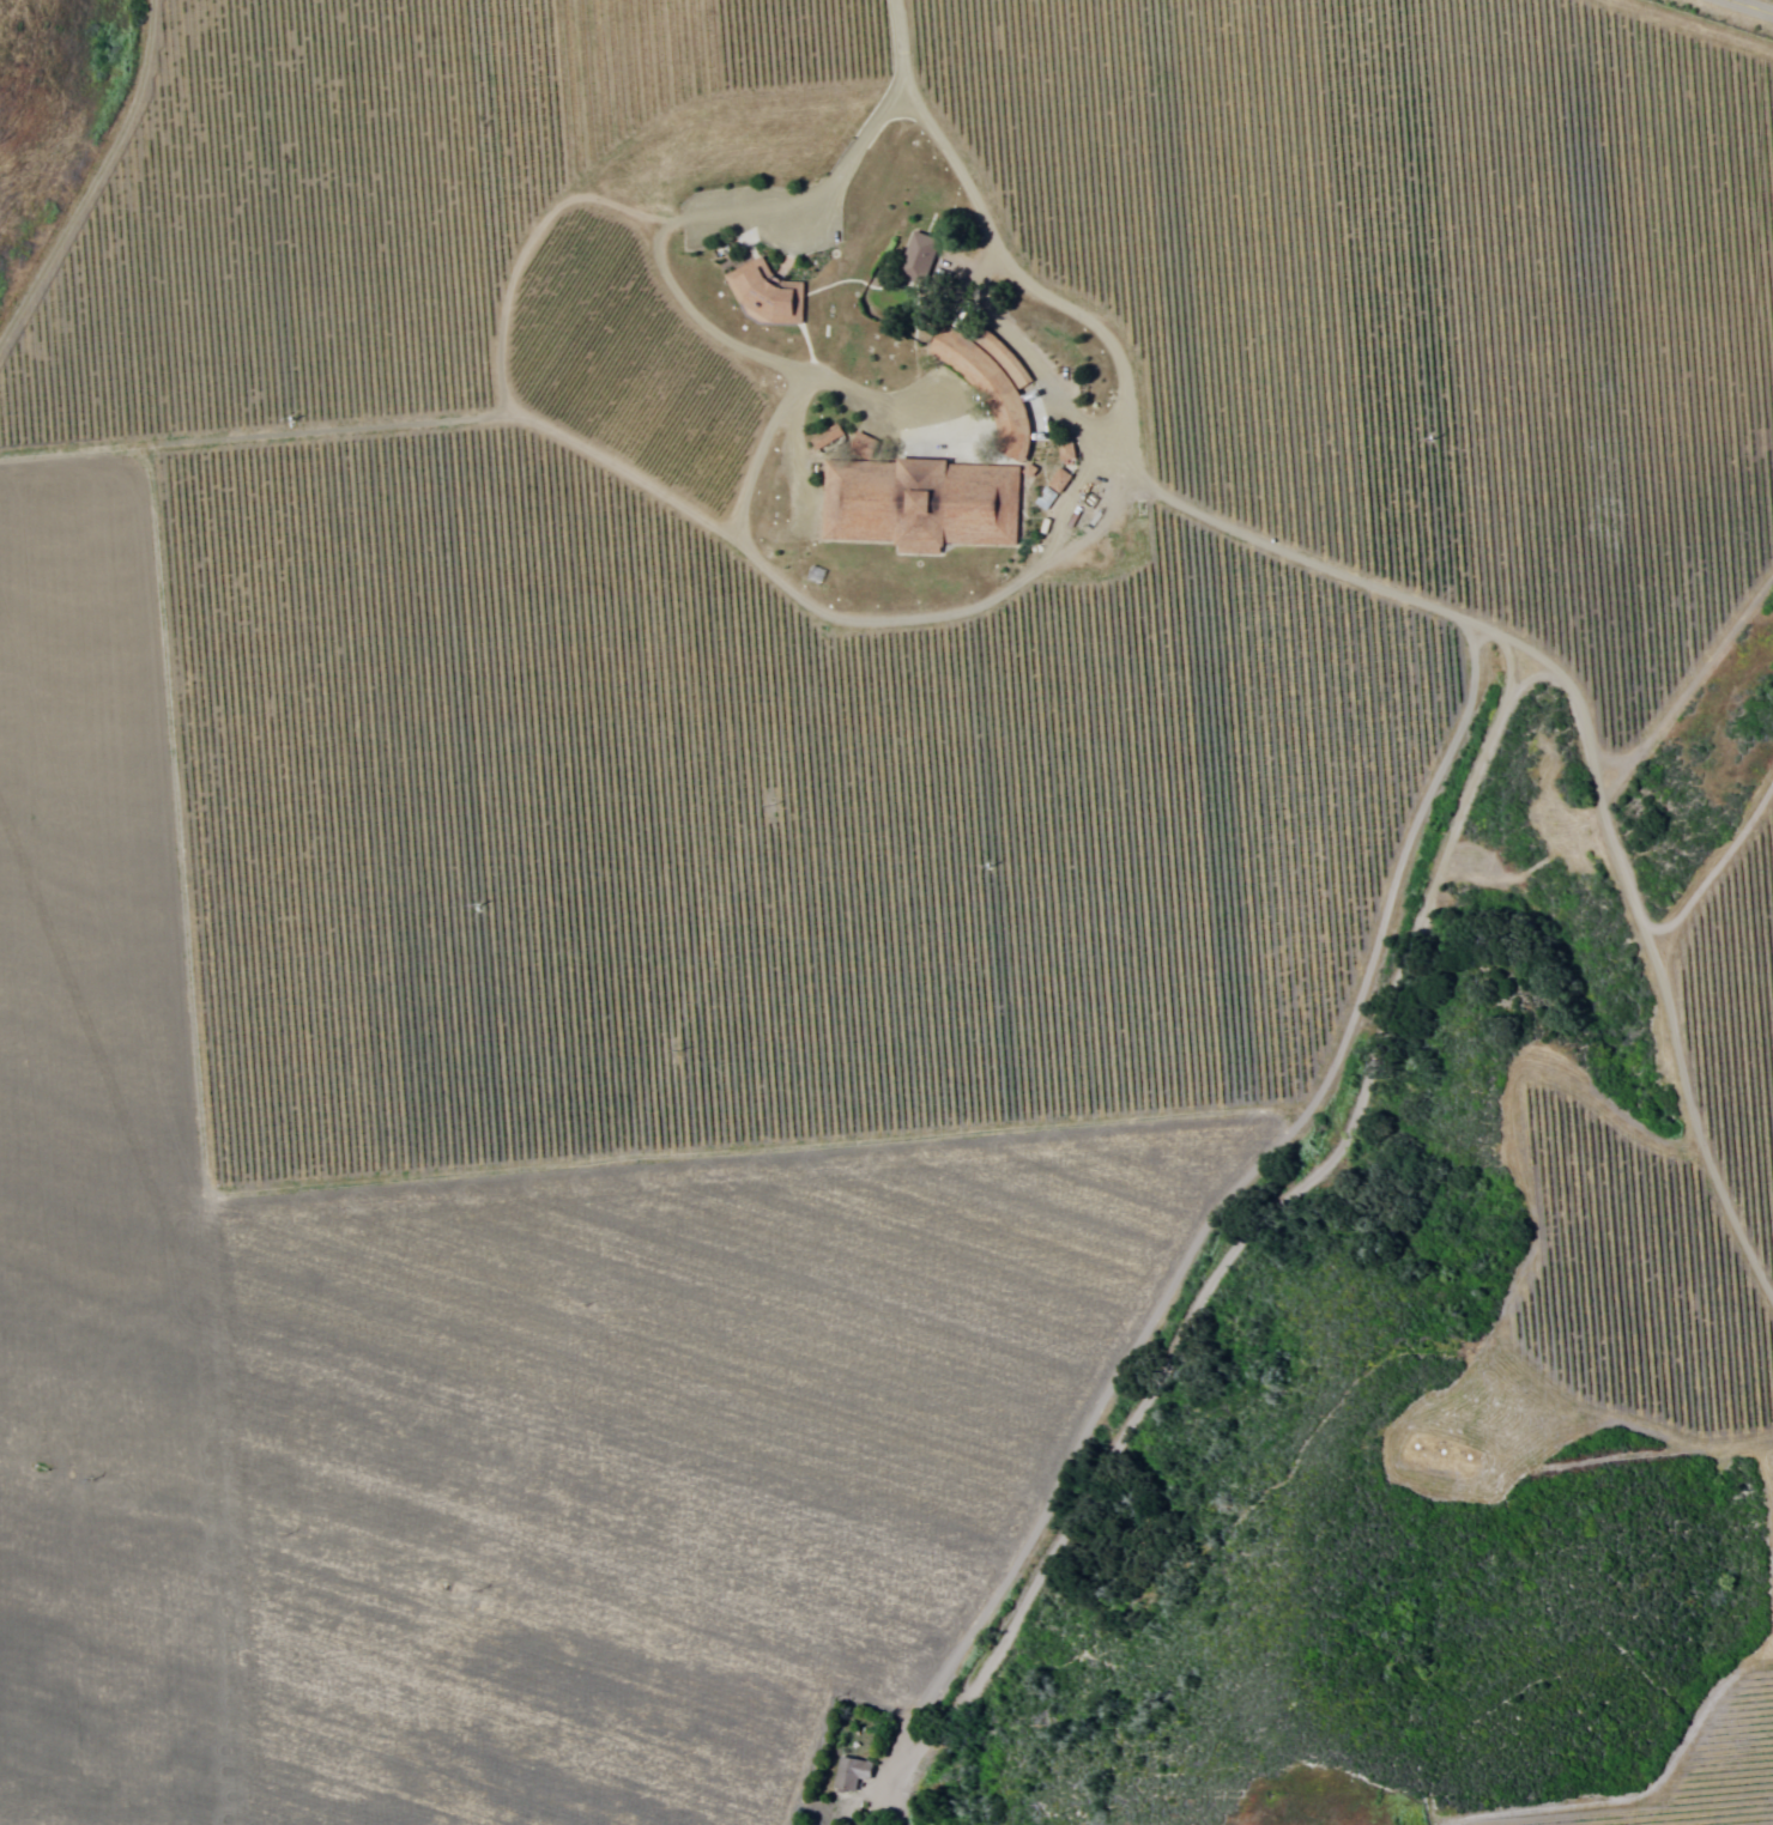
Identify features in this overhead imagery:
road: (1743, 8)
building: (914, 253)
building: (762, 293)
building: (986, 382)
building: (823, 435)
building: (859, 444)
building: (1063, 449)
building: (1024, 469)
building: (1055, 479)
building: (916, 503)
road: (1251, 595)
crop: (745, 853)
crop: (1641, 1231)
building: (847, 1771)
crop: (1677, 1778)

